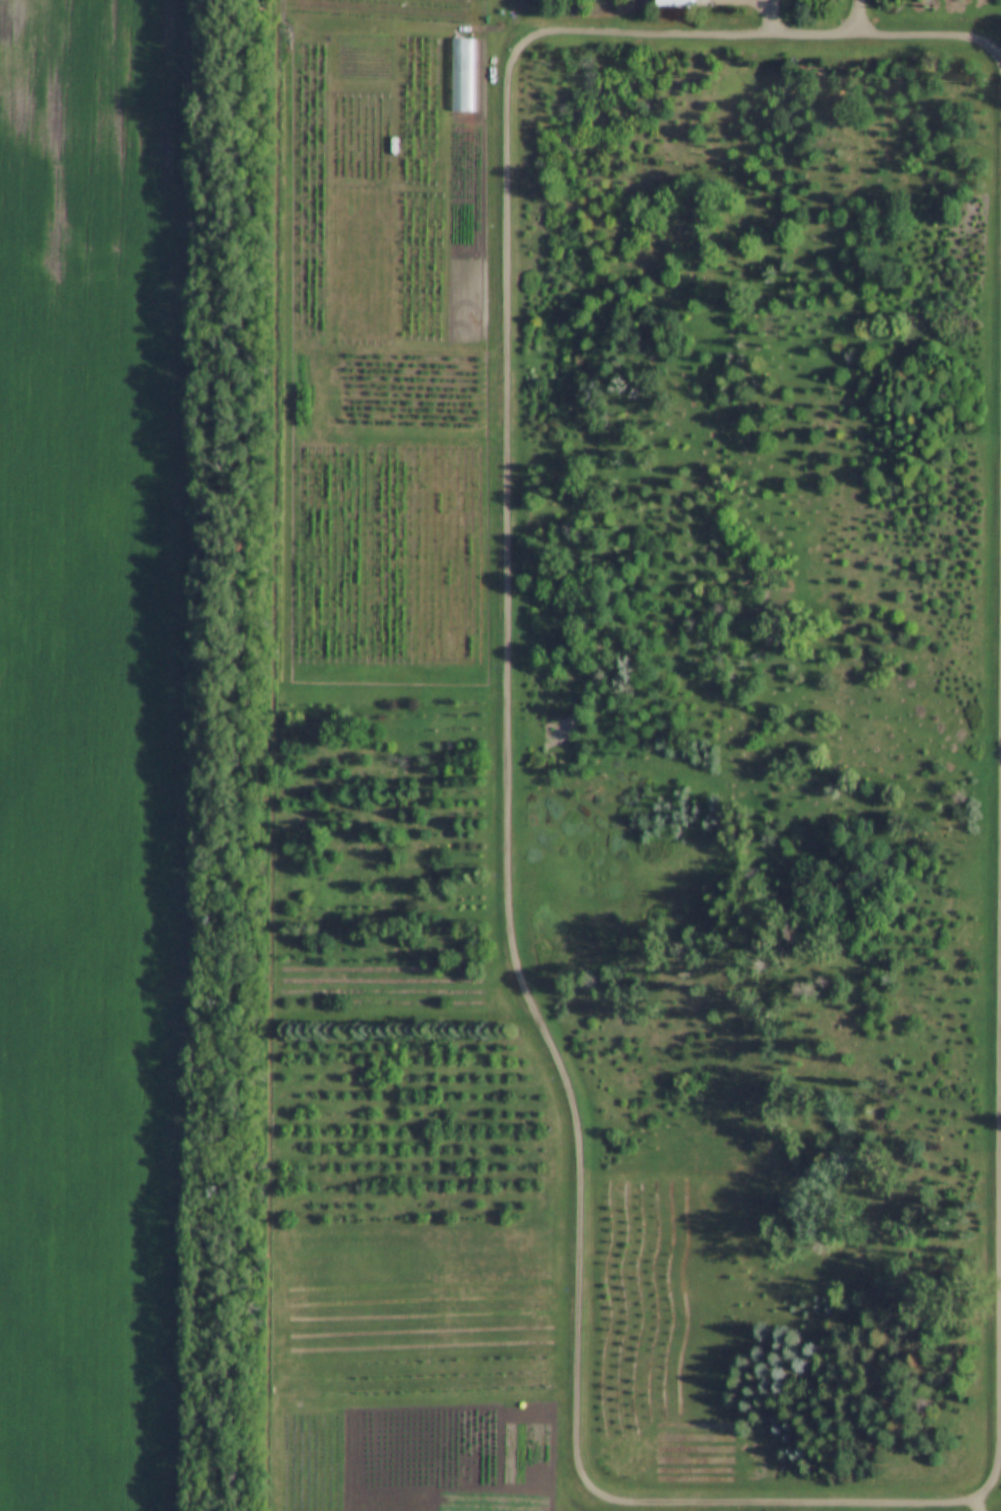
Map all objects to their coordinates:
building: (671, 4)
road: (859, 17)
road: (507, 751)

